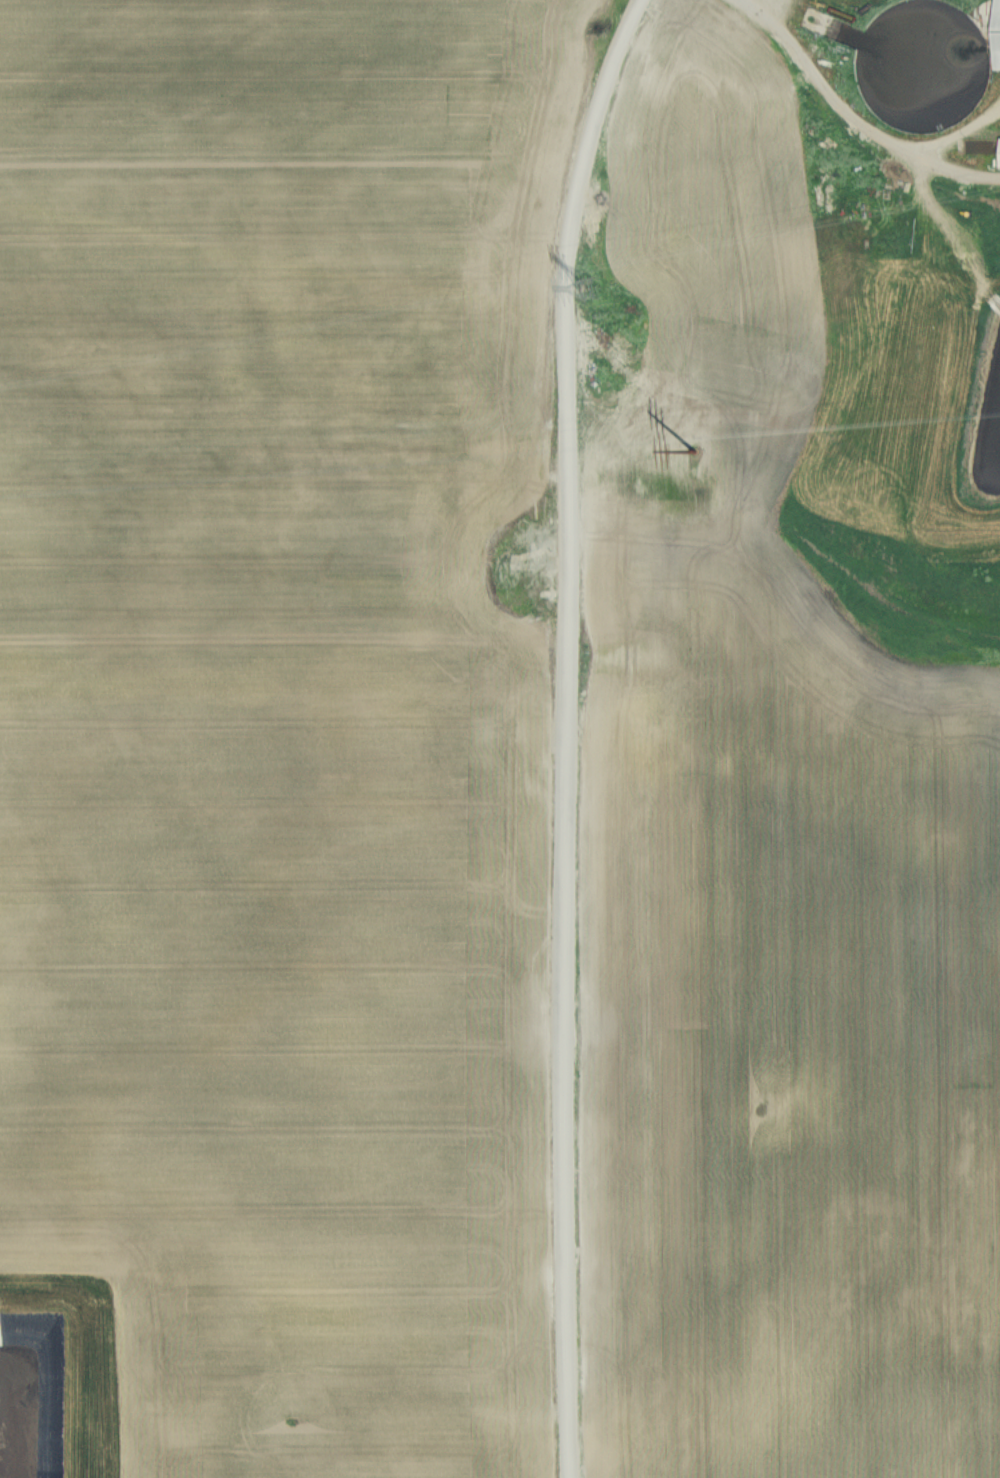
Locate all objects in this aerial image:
building: (999, 35)
road: (851, 120)
power tower: (594, 290)
power tower: (690, 444)
road: (561, 733)

